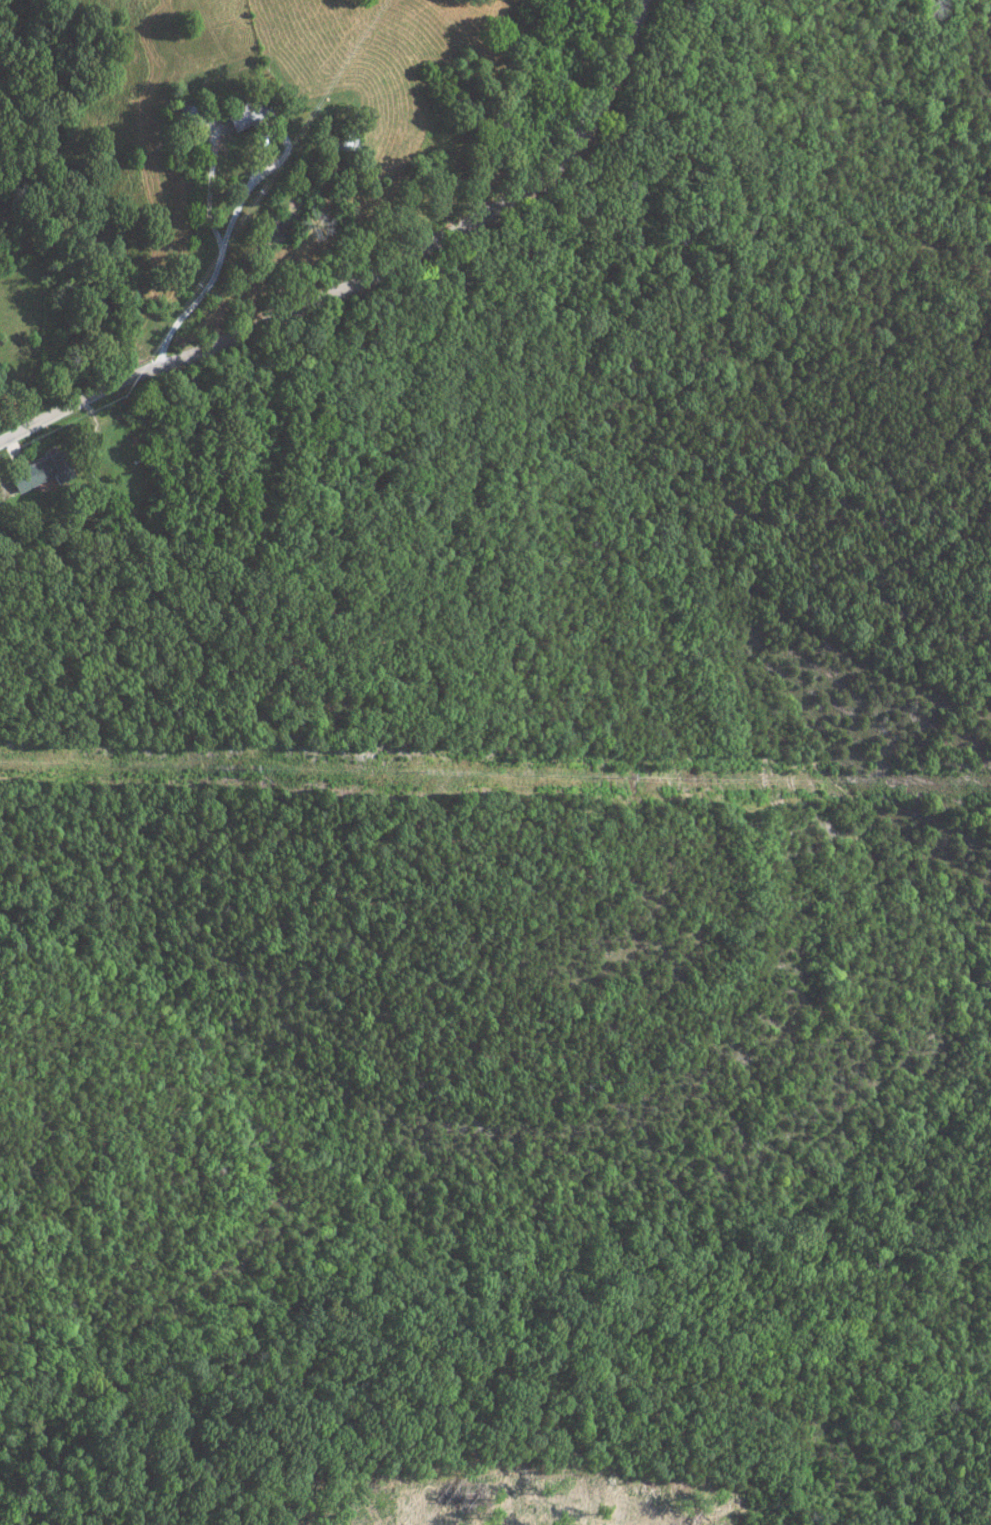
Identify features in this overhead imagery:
road: (368, 272)
building: (35, 472)

